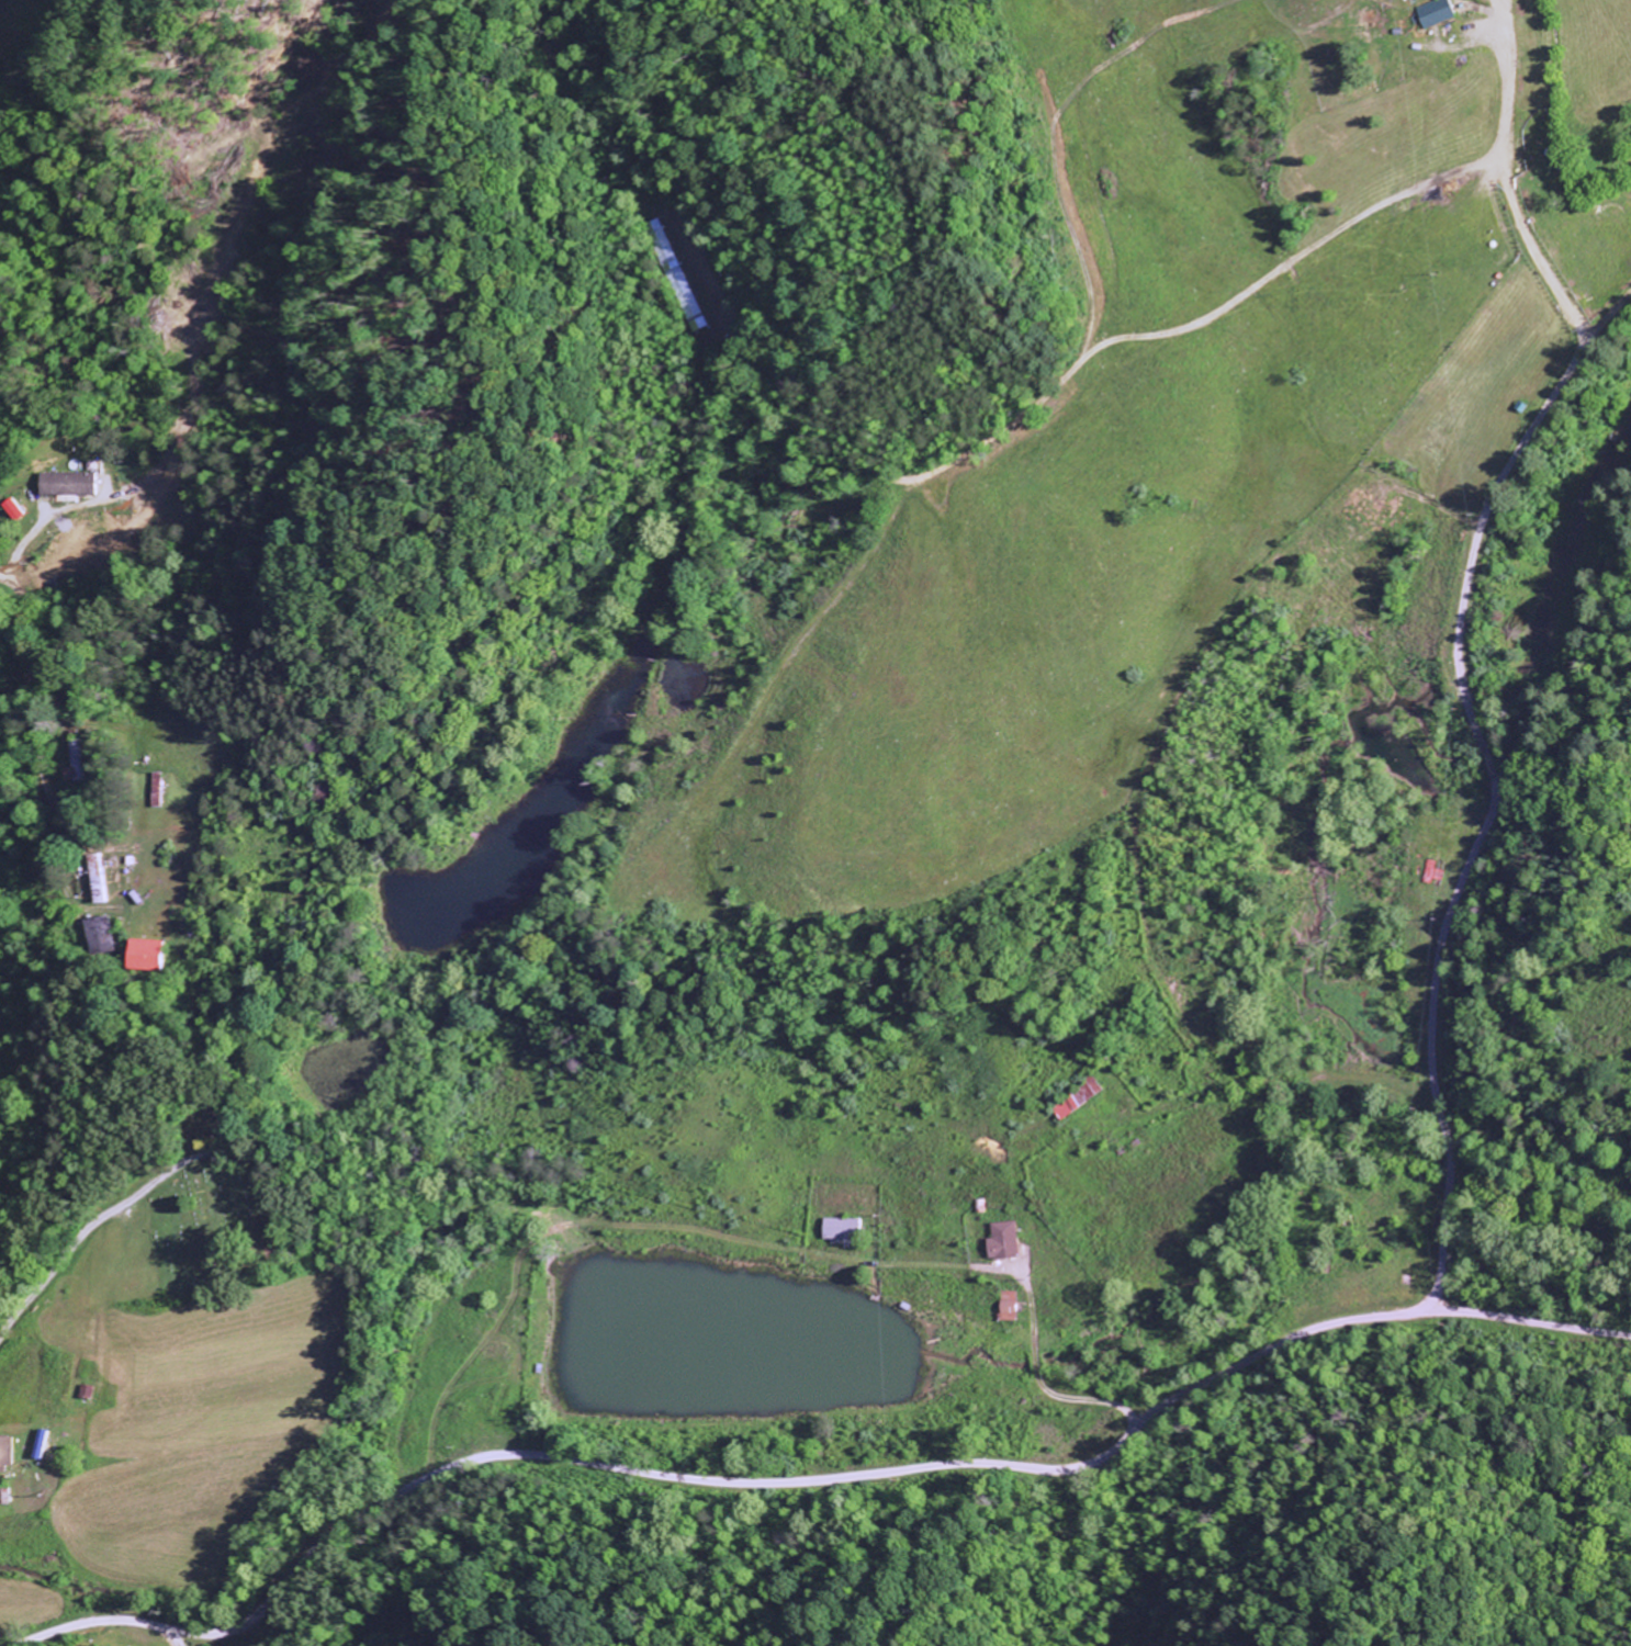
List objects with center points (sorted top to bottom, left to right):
building: (1433, 12)
building: (72, 484)
building: (18, 510)
building: (95, 890)
building: (98, 935)
building: (148, 954)
park: (218, 1206)
building: (840, 1228)
road: (91, 1229)
building: (1006, 1240)
building: (1009, 1306)
building: (7, 1454)
road: (569, 1458)
building: (3, 1496)

